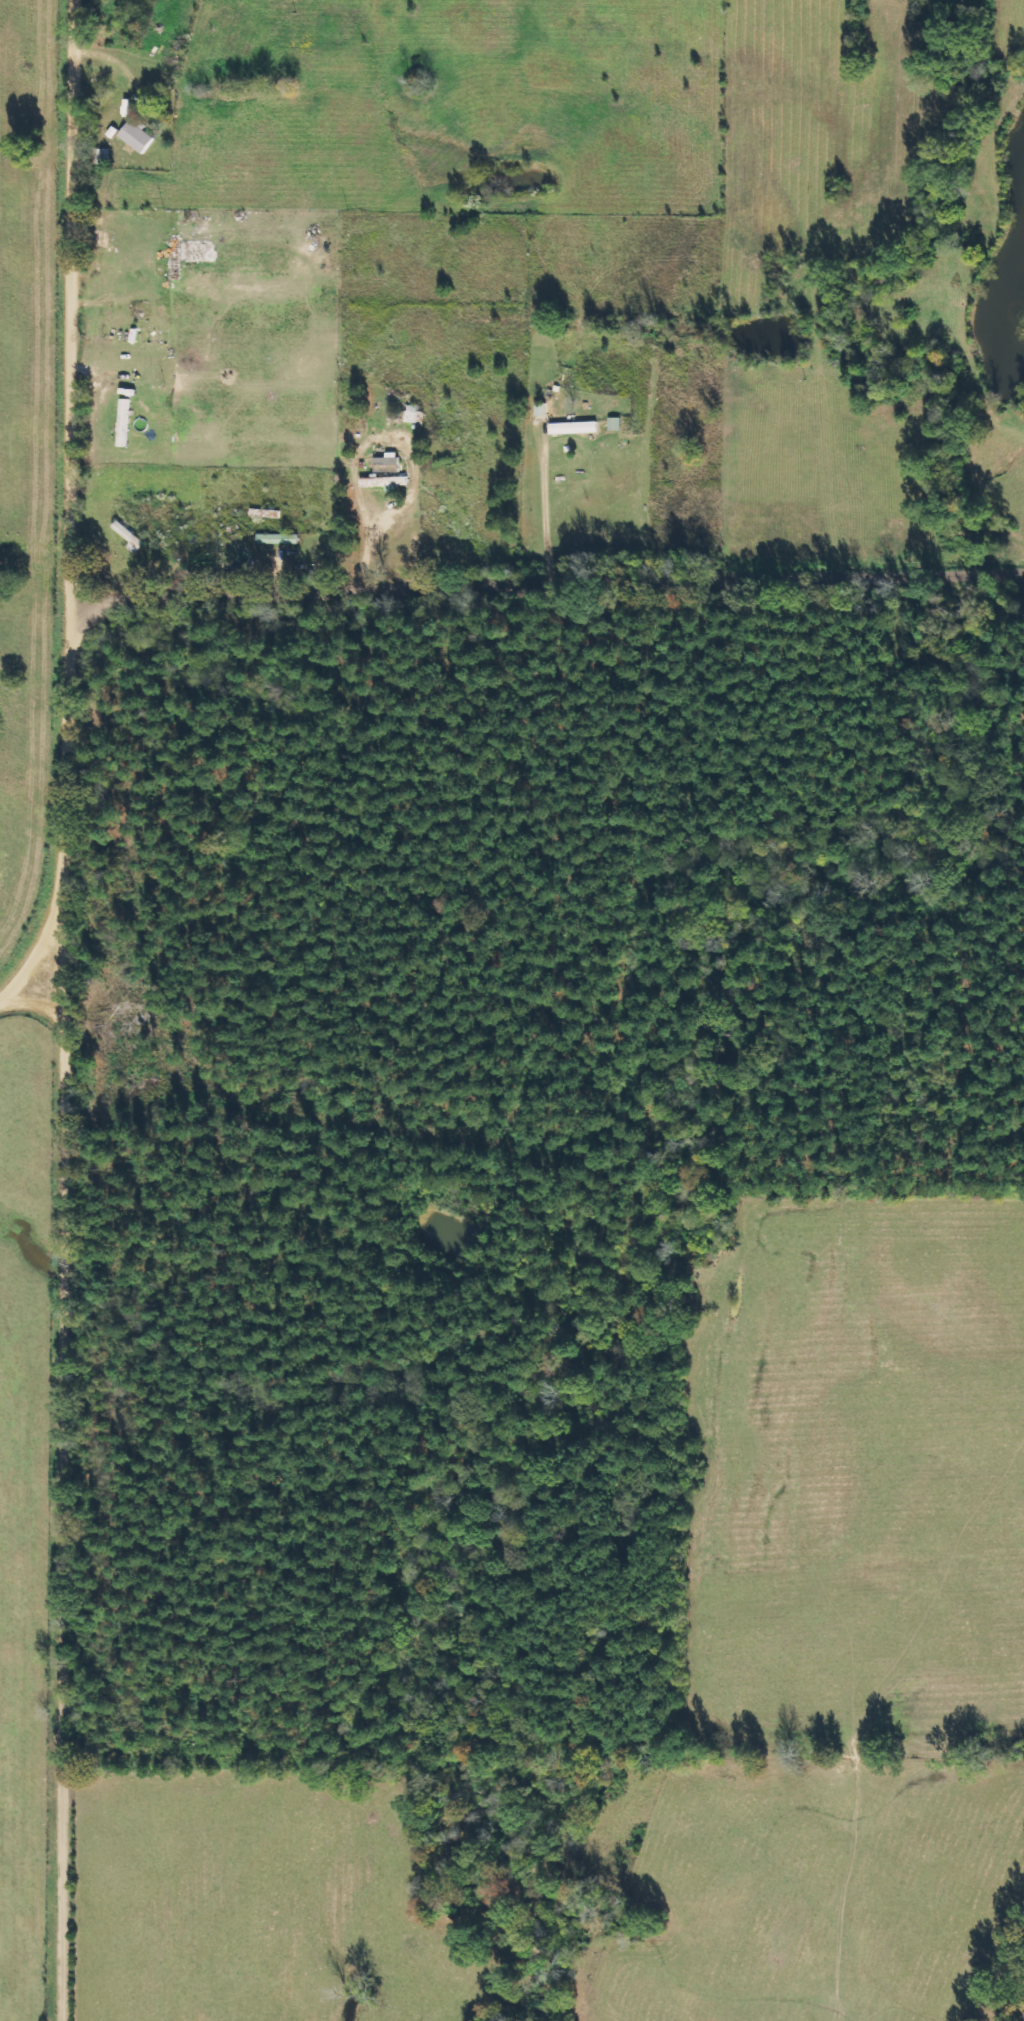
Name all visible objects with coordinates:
building: (137, 136)
building: (414, 413)
building: (615, 423)
building: (575, 427)
building: (388, 463)
building: (388, 481)
building: (278, 538)
road: (114, 557)
road: (550, 588)
road: (35, 831)
road: (34, 992)
road: (69, 1010)

